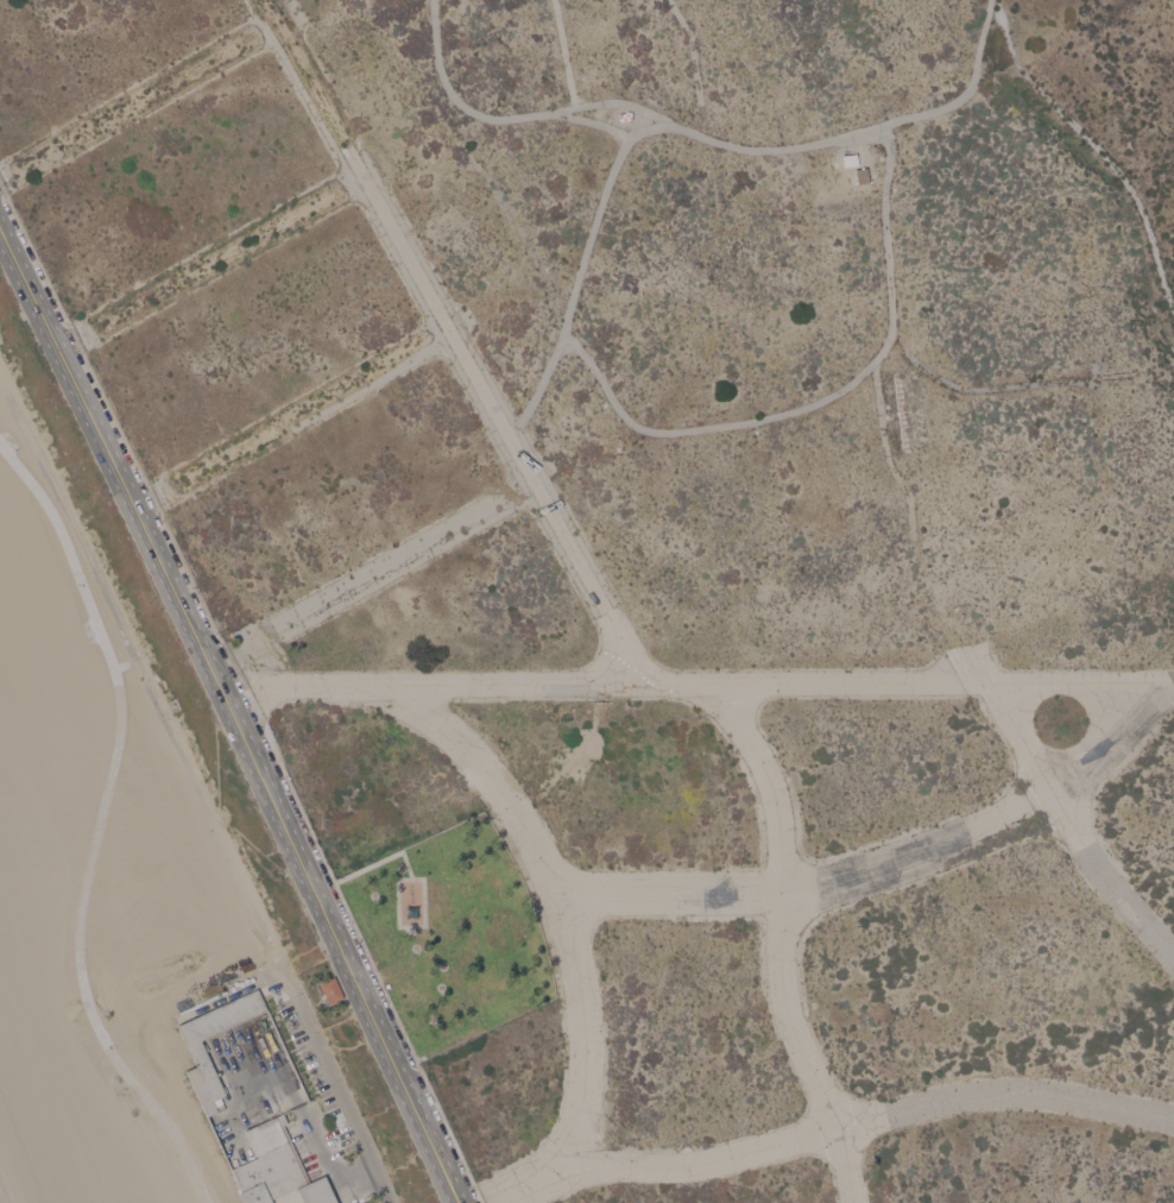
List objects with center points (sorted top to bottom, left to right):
road: (563, 53)
road: (694, 65)
building: (623, 114)
road: (613, 131)
road: (706, 137)
road: (1097, 147)
building: (848, 159)
building: (860, 175)
road: (29, 289)
road: (574, 289)
road: (821, 399)
road: (95, 428)
road: (503, 428)
road: (383, 569)
road: (172, 587)
road: (216, 681)
road: (1168, 682)
road: (705, 684)
road: (234, 689)
road: (1020, 738)
road: (1110, 742)
road: (197, 785)
road: (100, 825)
road: (1106, 881)
road: (814, 890)
road: (568, 927)
park: (453, 936)
road: (782, 943)
road: (339, 949)
building: (332, 989)
building: (206, 1066)
road: (857, 1122)
building: (278, 1167)

